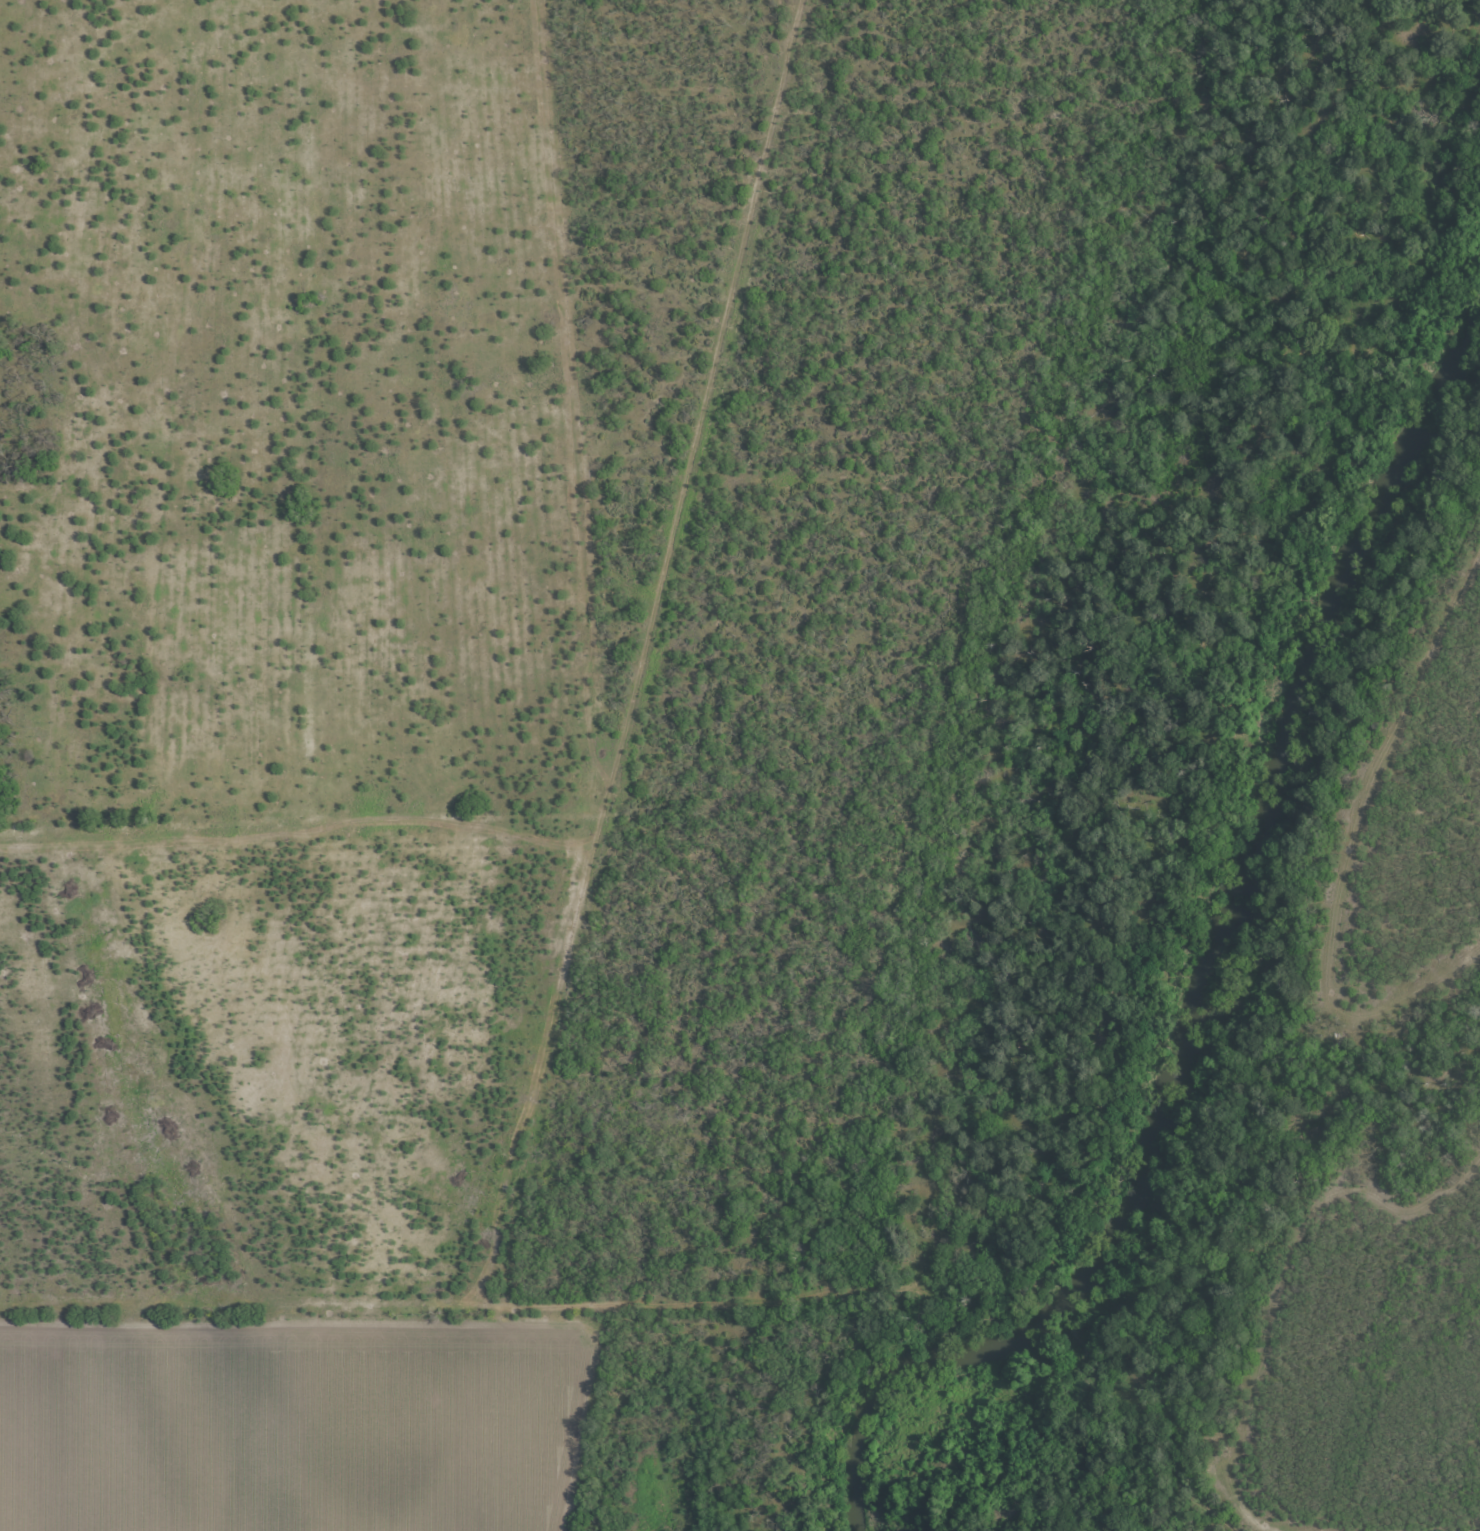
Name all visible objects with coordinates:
river: (1223, 949)

